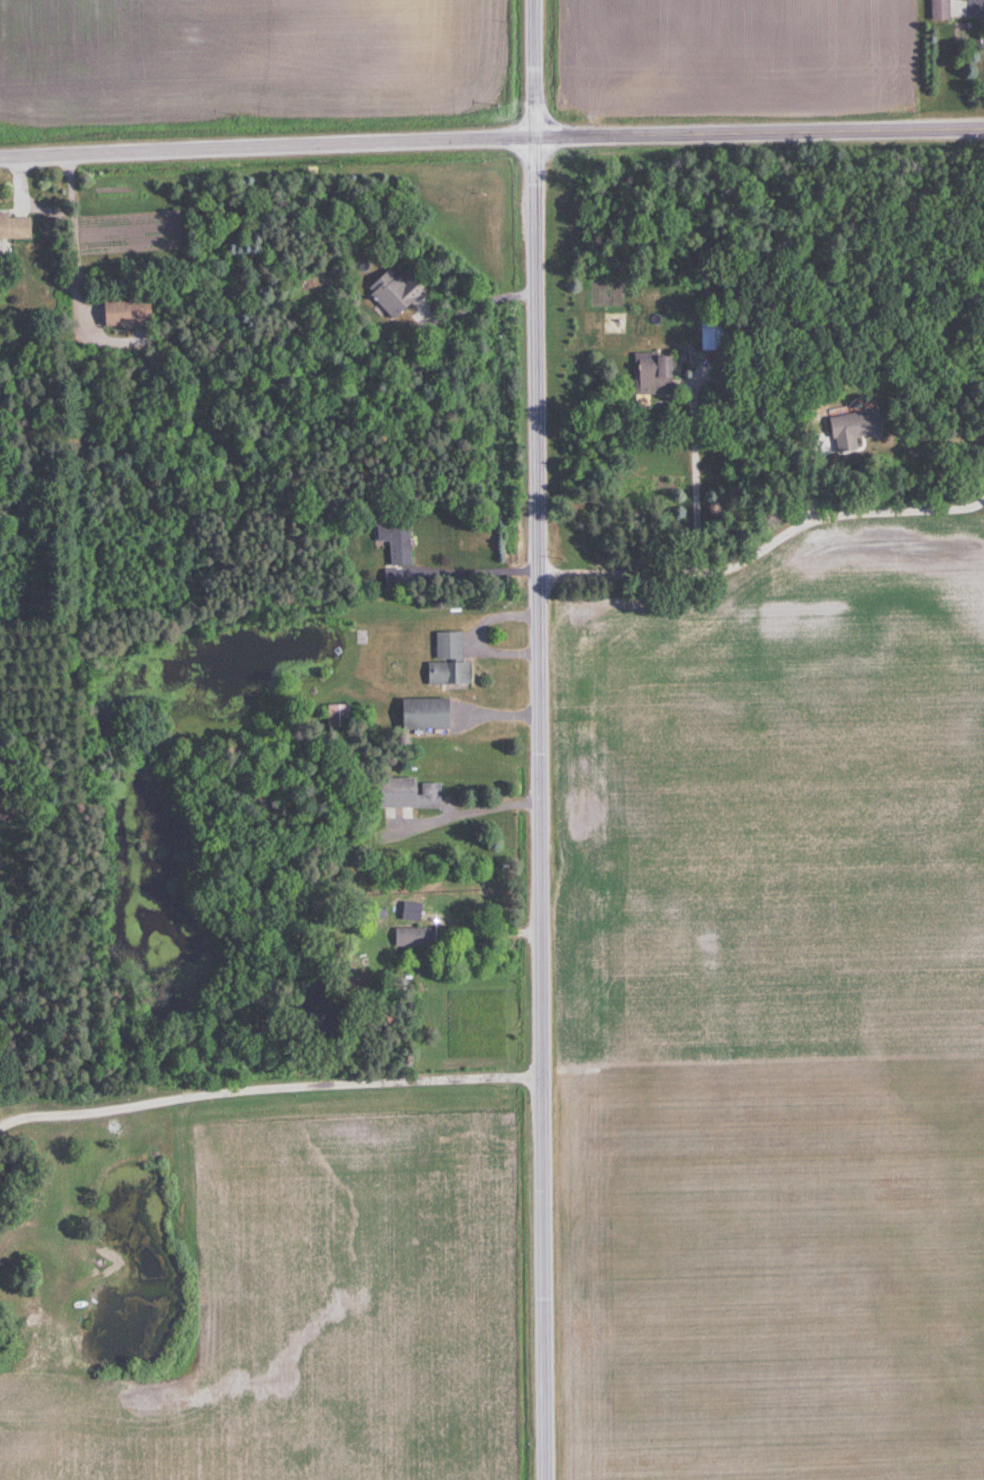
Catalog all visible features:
building: (939, 10)
traffic signals: (535, 137)
road: (491, 138)
building: (14, 227)
building: (391, 293)
road: (484, 302)
building: (123, 313)
building: (710, 336)
building: (651, 375)
road: (981, 448)
road: (833, 516)
building: (393, 543)
road: (697, 545)
road: (473, 574)
building: (390, 579)
road: (476, 638)
building: (446, 663)
building: (421, 715)
building: (336, 717)
road: (538, 740)
building: (408, 795)
road: (461, 815)
road: (482, 927)
building: (413, 938)
road: (269, 1083)

